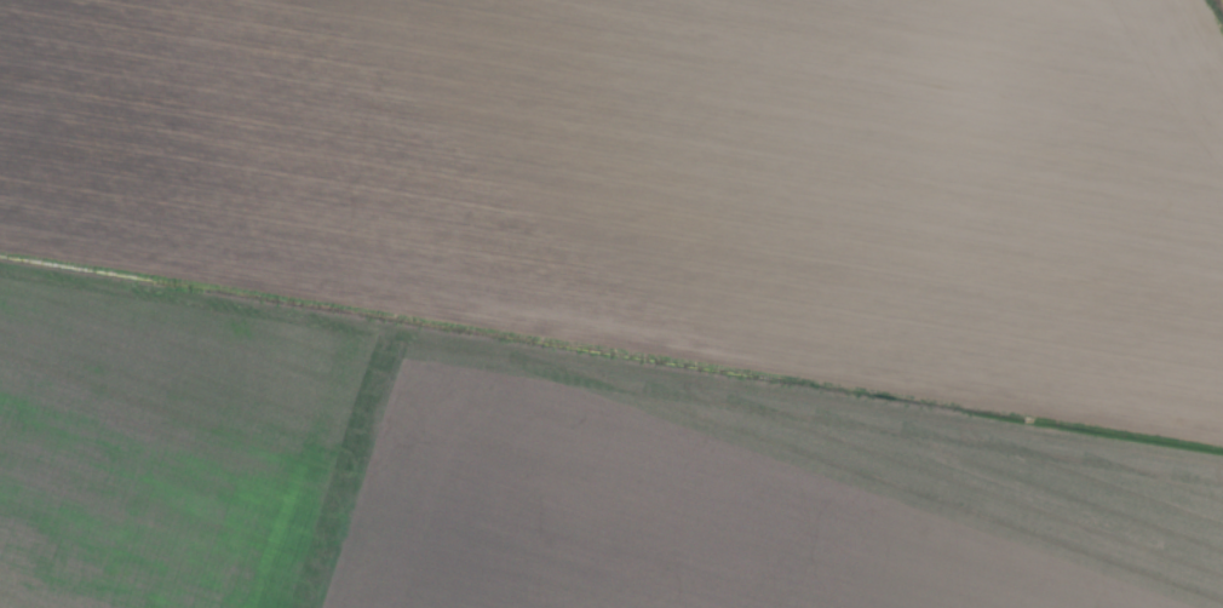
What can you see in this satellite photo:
crop: (610, 304)

